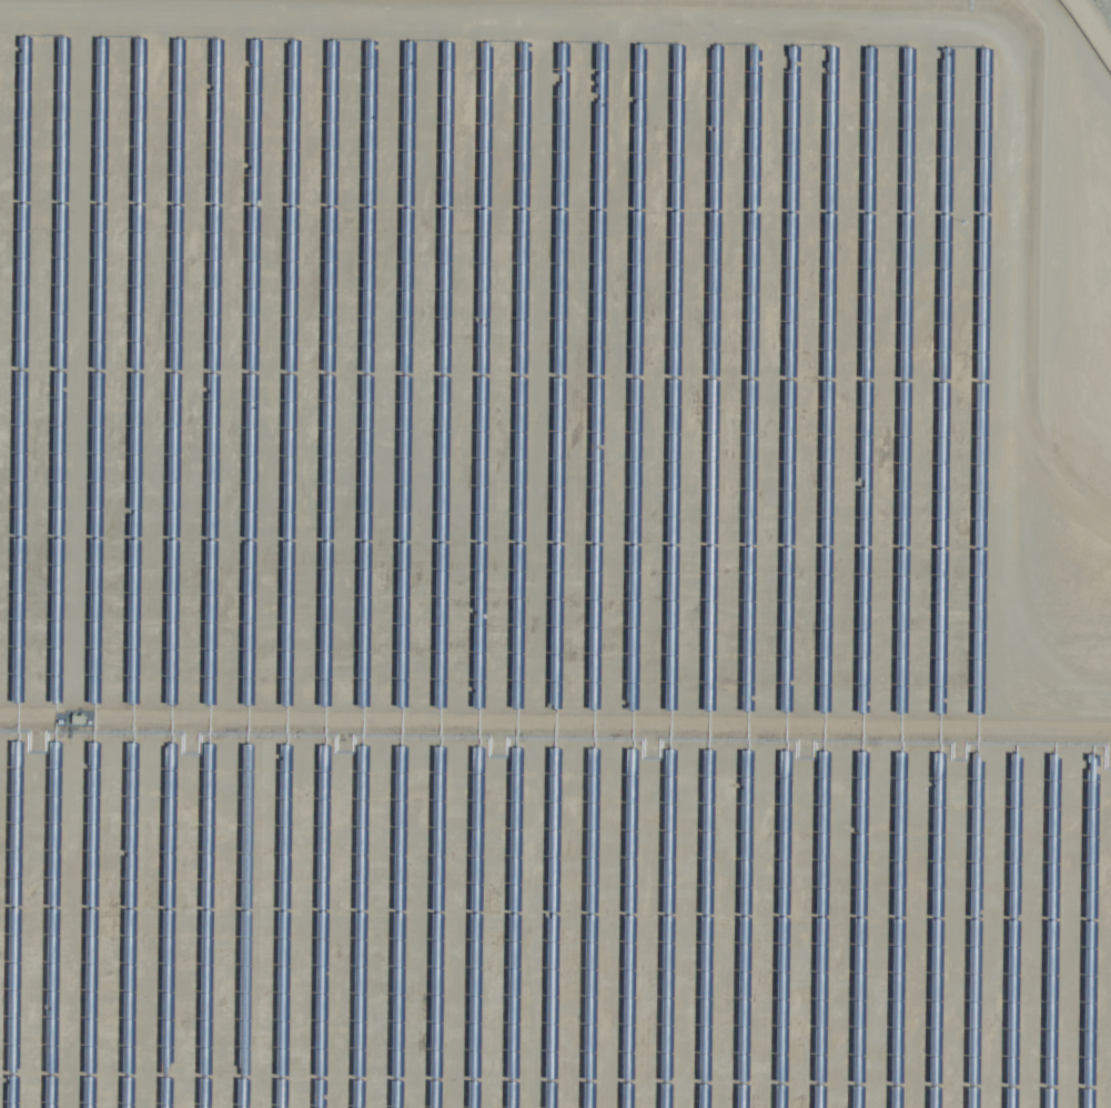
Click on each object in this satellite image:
solar farm: (554, 554)

